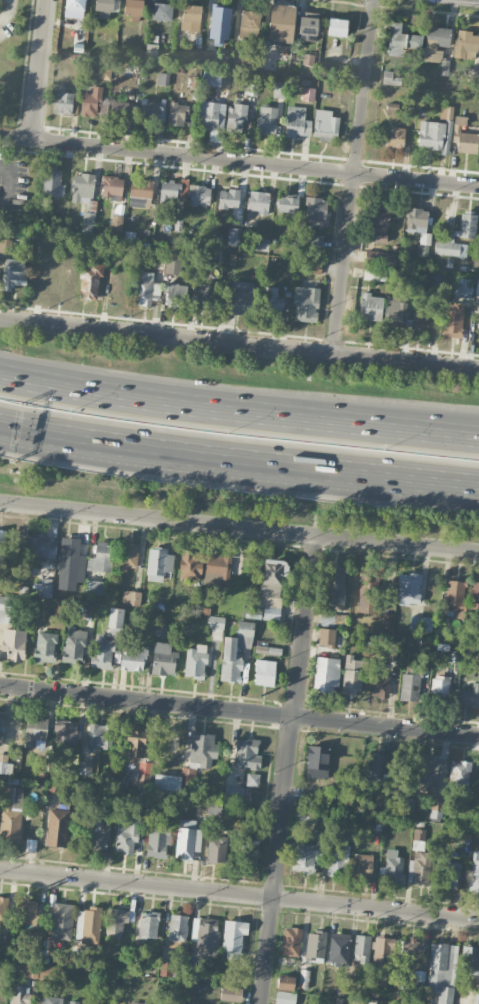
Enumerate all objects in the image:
road: (475, 0)
building: (74, 8)
road: (7, 9)
building: (104, 9)
building: (133, 9)
building: (162, 11)
building: (191, 17)
building: (248, 21)
building: (281, 23)
building: (219, 26)
building: (307, 26)
building: (337, 27)
building: (401, 40)
building: (435, 42)
building: (466, 46)
building: (151, 51)
building: (242, 60)
building: (308, 60)
road: (39, 68)
building: (212, 78)
building: (163, 79)
building: (391, 79)
road: (364, 86)
building: (251, 89)
building: (278, 90)
building: (308, 94)
building: (63, 102)
building: (90, 102)
building: (119, 110)
building: (152, 110)
building: (177, 113)
building: (446, 113)
building: (211, 115)
building: (235, 117)
building: (266, 120)
building: (297, 122)
building: (325, 124)
road: (16, 136)
building: (433, 136)
building: (394, 137)
building: (464, 137)
road: (256, 161)
road: (6, 183)
building: (50, 183)
building: (112, 187)
building: (83, 188)
building: (171, 189)
building: (140, 193)
building: (199, 195)
building: (228, 198)
building: (258, 201)
building: (287, 204)
building: (316, 212)
building: (88, 222)
building: (116, 222)
building: (378, 223)
building: (419, 227)
building: (233, 236)
building: (457, 237)
building: (316, 241)
building: (260, 244)
building: (6, 246)
building: (158, 250)
building: (377, 256)
building: (173, 260)
road: (343, 263)
building: (311, 267)
building: (14, 273)
building: (374, 273)
building: (90, 282)
building: (463, 288)
building: (477, 288)
building: (146, 289)
building: (176, 295)
building: (205, 297)
building: (241, 297)
building: (225, 299)
building: (272, 304)
building: (306, 304)
building: (370, 307)
building: (394, 311)
building: (453, 319)
building: (422, 320)
road: (239, 344)
road: (238, 411)
road: (238, 459)
road: (239, 528)
building: (2, 546)
building: (39, 547)
building: (127, 556)
building: (101, 558)
building: (70, 559)
building: (159, 562)
building: (191, 565)
building: (217, 569)
building: (335, 586)
building: (93, 587)
building: (44, 588)
building: (271, 588)
building: (409, 589)
building: (474, 595)
building: (131, 598)
building: (455, 598)
building: (368, 604)
building: (4, 610)
building: (325, 621)
building: (115, 623)
building: (421, 623)
building: (215, 624)
building: (159, 629)
building: (326, 636)
building: (14, 644)
building: (425, 645)
building: (74, 646)
building: (45, 647)
building: (262, 647)
building: (102, 651)
building: (228, 653)
building: (133, 658)
building: (163, 659)
building: (195, 662)
building: (265, 672)
building: (326, 675)
building: (351, 676)
building: (412, 683)
building: (379, 684)
building: (439, 687)
building: (469, 696)
road: (239, 712)
building: (0, 726)
building: (36, 732)
building: (65, 733)
building: (99, 735)
building: (136, 742)
building: (202, 750)
building: (247, 754)
building: (317, 762)
building: (5, 764)
building: (401, 764)
building: (373, 766)
road: (289, 770)
building: (431, 773)
building: (459, 773)
building: (141, 775)
building: (252, 779)
building: (167, 783)
building: (52, 789)
building: (233, 792)
building: (478, 792)
building: (308, 800)
building: (407, 806)
building: (436, 808)
building: (214, 809)
building: (244, 811)
building: (11, 814)
building: (308, 816)
building: (58, 826)
building: (96, 833)
building: (127, 835)
building: (418, 840)
building: (157, 842)
building: (189, 843)
building: (216, 847)
building: (248, 851)
building: (305, 857)
building: (338, 861)
building: (362, 865)
building: (392, 866)
building: (419, 867)
building: (474, 872)
building: (448, 875)
road: (239, 895)
building: (3, 908)
building: (27, 911)
building: (62, 920)
building: (117, 922)
building: (148, 924)
building: (88, 925)
building: (178, 927)
building: (205, 935)
building: (233, 938)
building: (291, 942)
building: (4, 943)
building: (315, 946)
building: (338, 947)
building: (412, 948)
building: (362, 949)
building: (382, 960)
building: (469, 960)
building: (166, 968)
building: (27, 971)
building: (441, 971)
building: (196, 973)
building: (303, 978)
building: (418, 980)
building: (285, 983)
building: (20, 994)
building: (231, 994)
building: (285, 997)
building: (136, 1003)

